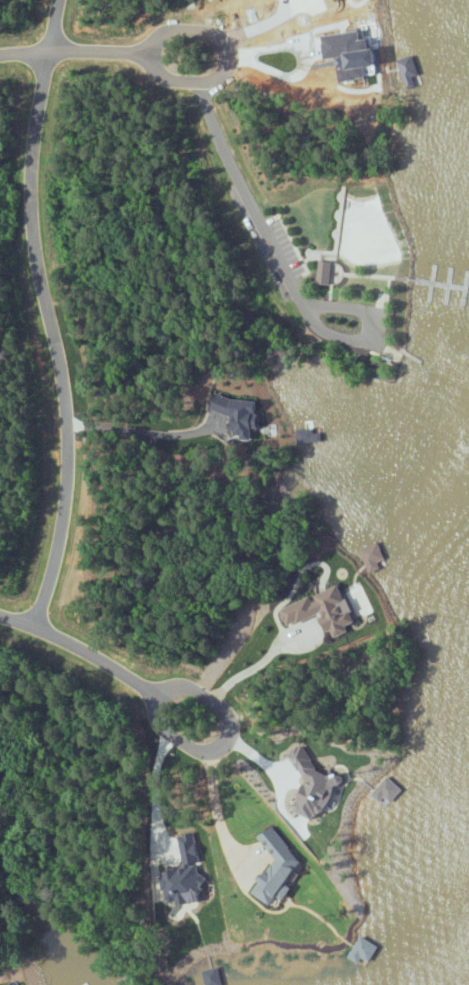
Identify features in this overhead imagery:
road: (73, 52)
road: (230, 56)
building: (323, 271)
road: (48, 314)
building: (233, 414)
road: (141, 431)
building: (373, 555)
building: (321, 610)
road: (77, 649)
road: (250, 668)
road: (225, 741)
building: (313, 784)
building: (188, 848)
building: (277, 867)
building: (183, 884)
building: (364, 949)
building: (213, 976)

